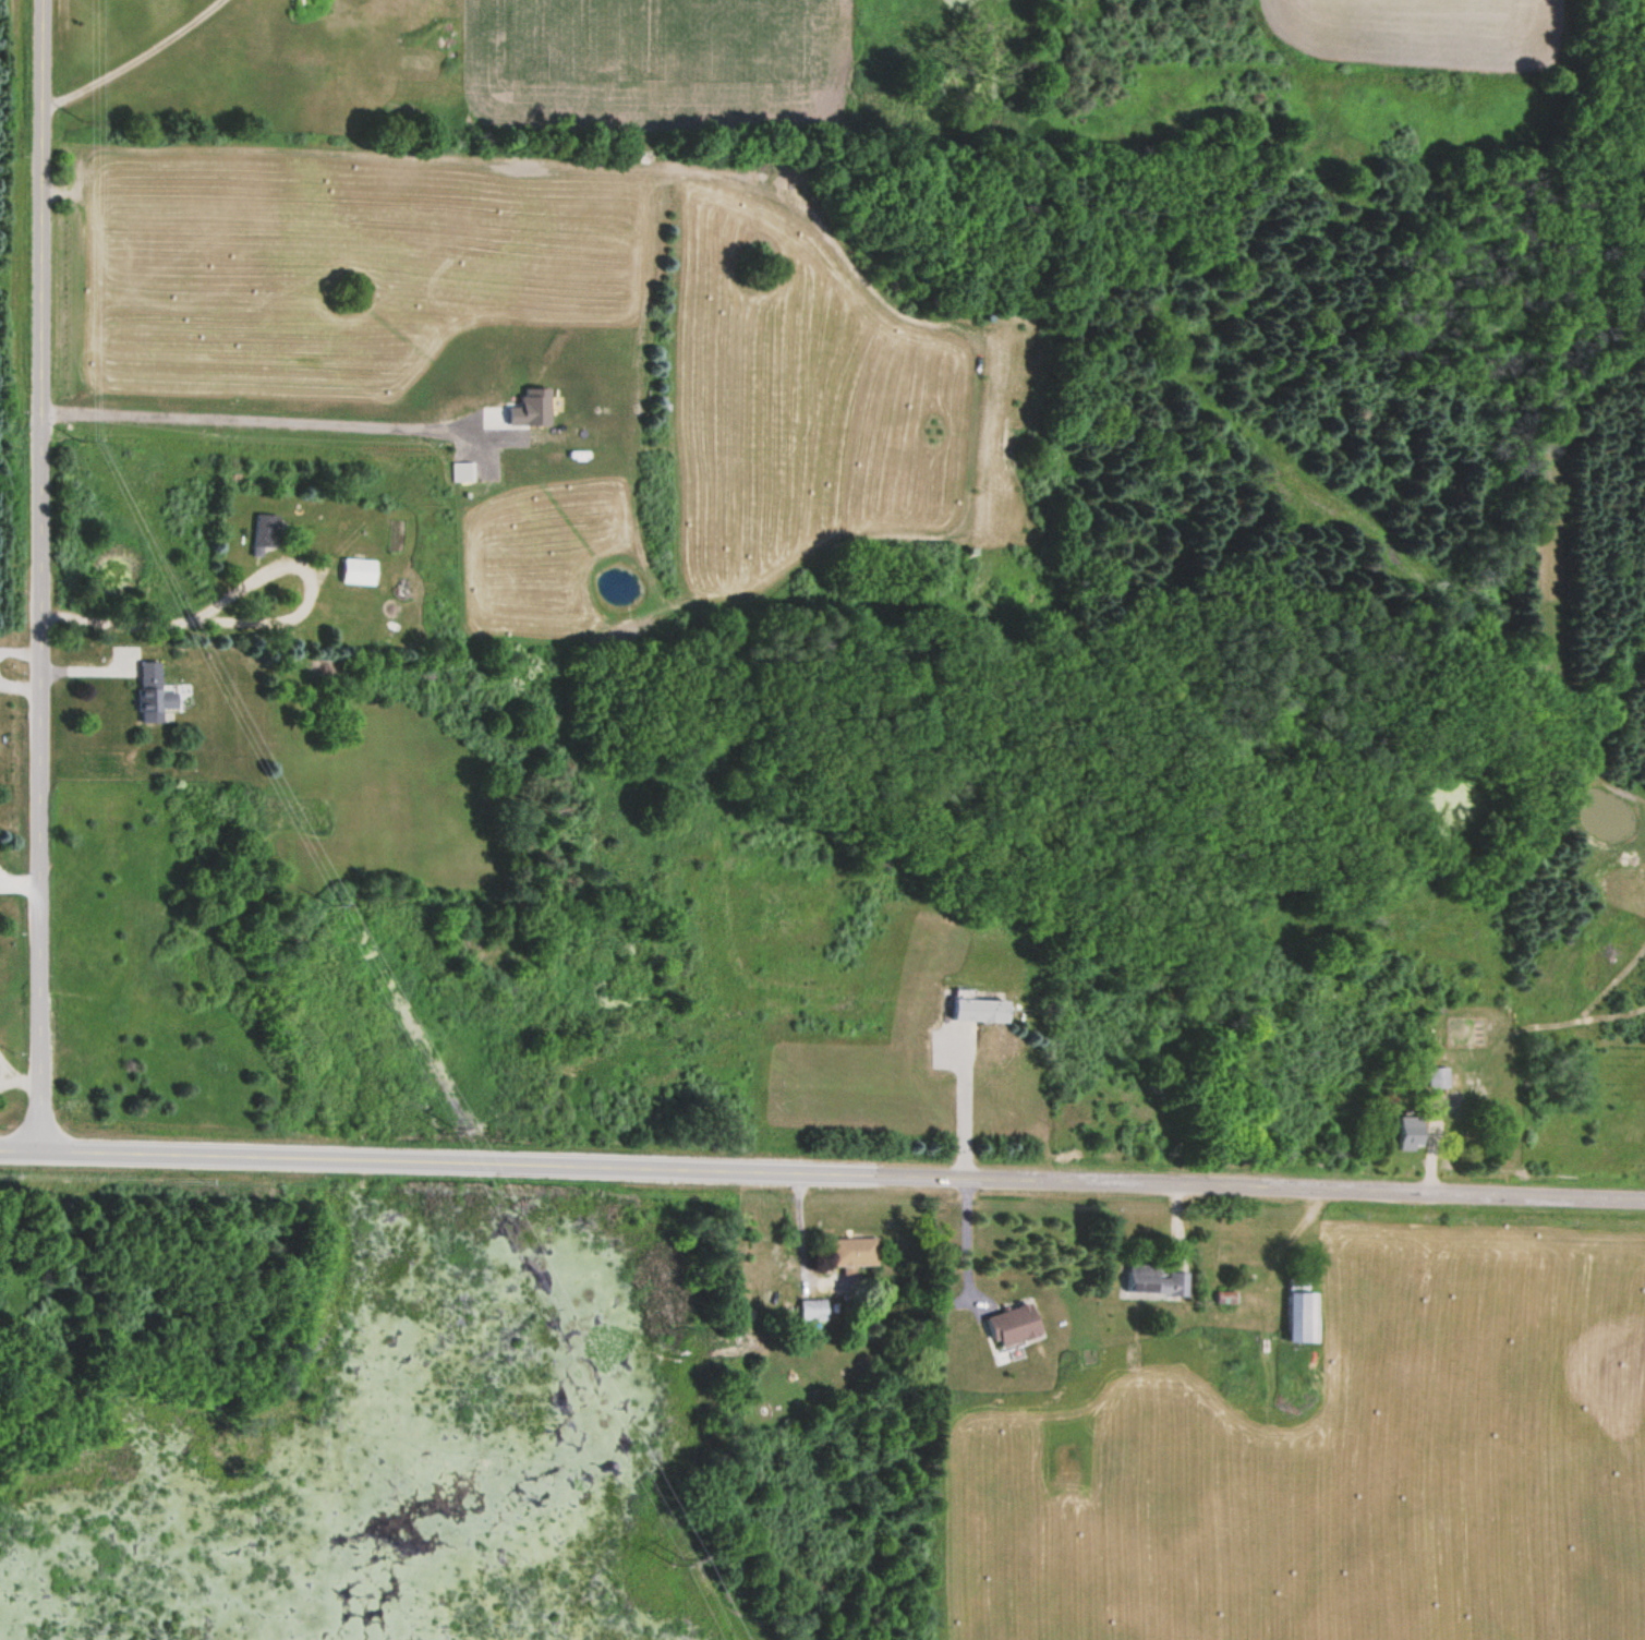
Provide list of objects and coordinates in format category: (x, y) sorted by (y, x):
building: (264, 531)
building: (358, 570)
road: (40, 572)
building: (152, 694)
building: (979, 1010)
building: (1437, 1077)
building: (1410, 1132)
road: (822, 1171)
building: (852, 1252)
building: (1154, 1278)
building: (1301, 1314)
building: (1013, 1324)
power tower: (675, 1556)

